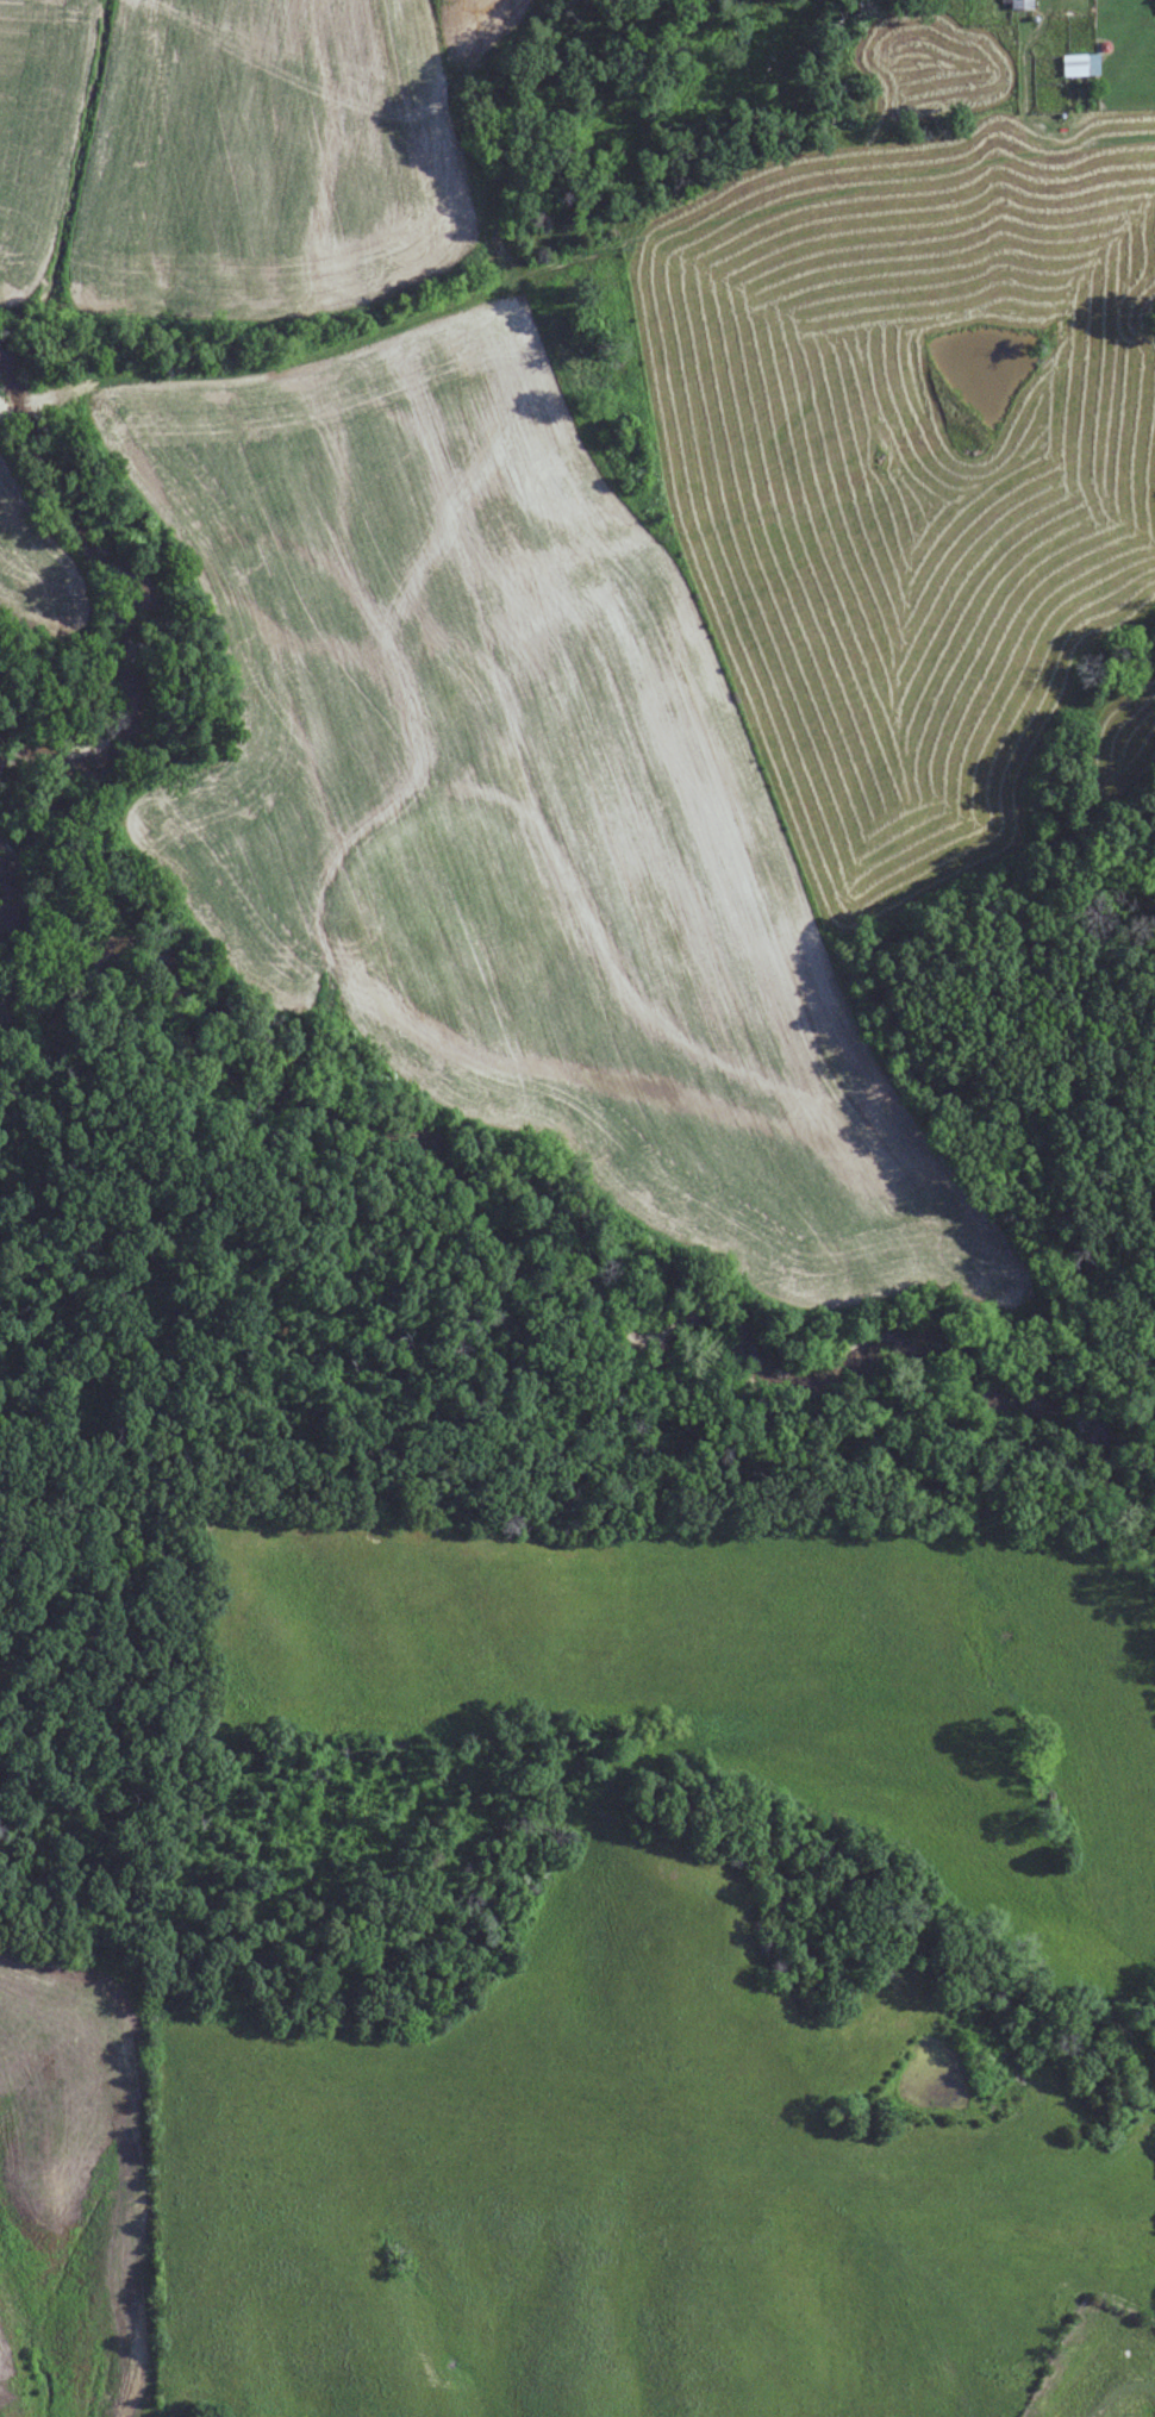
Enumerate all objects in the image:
building: (1019, 4)
building: (1078, 63)

